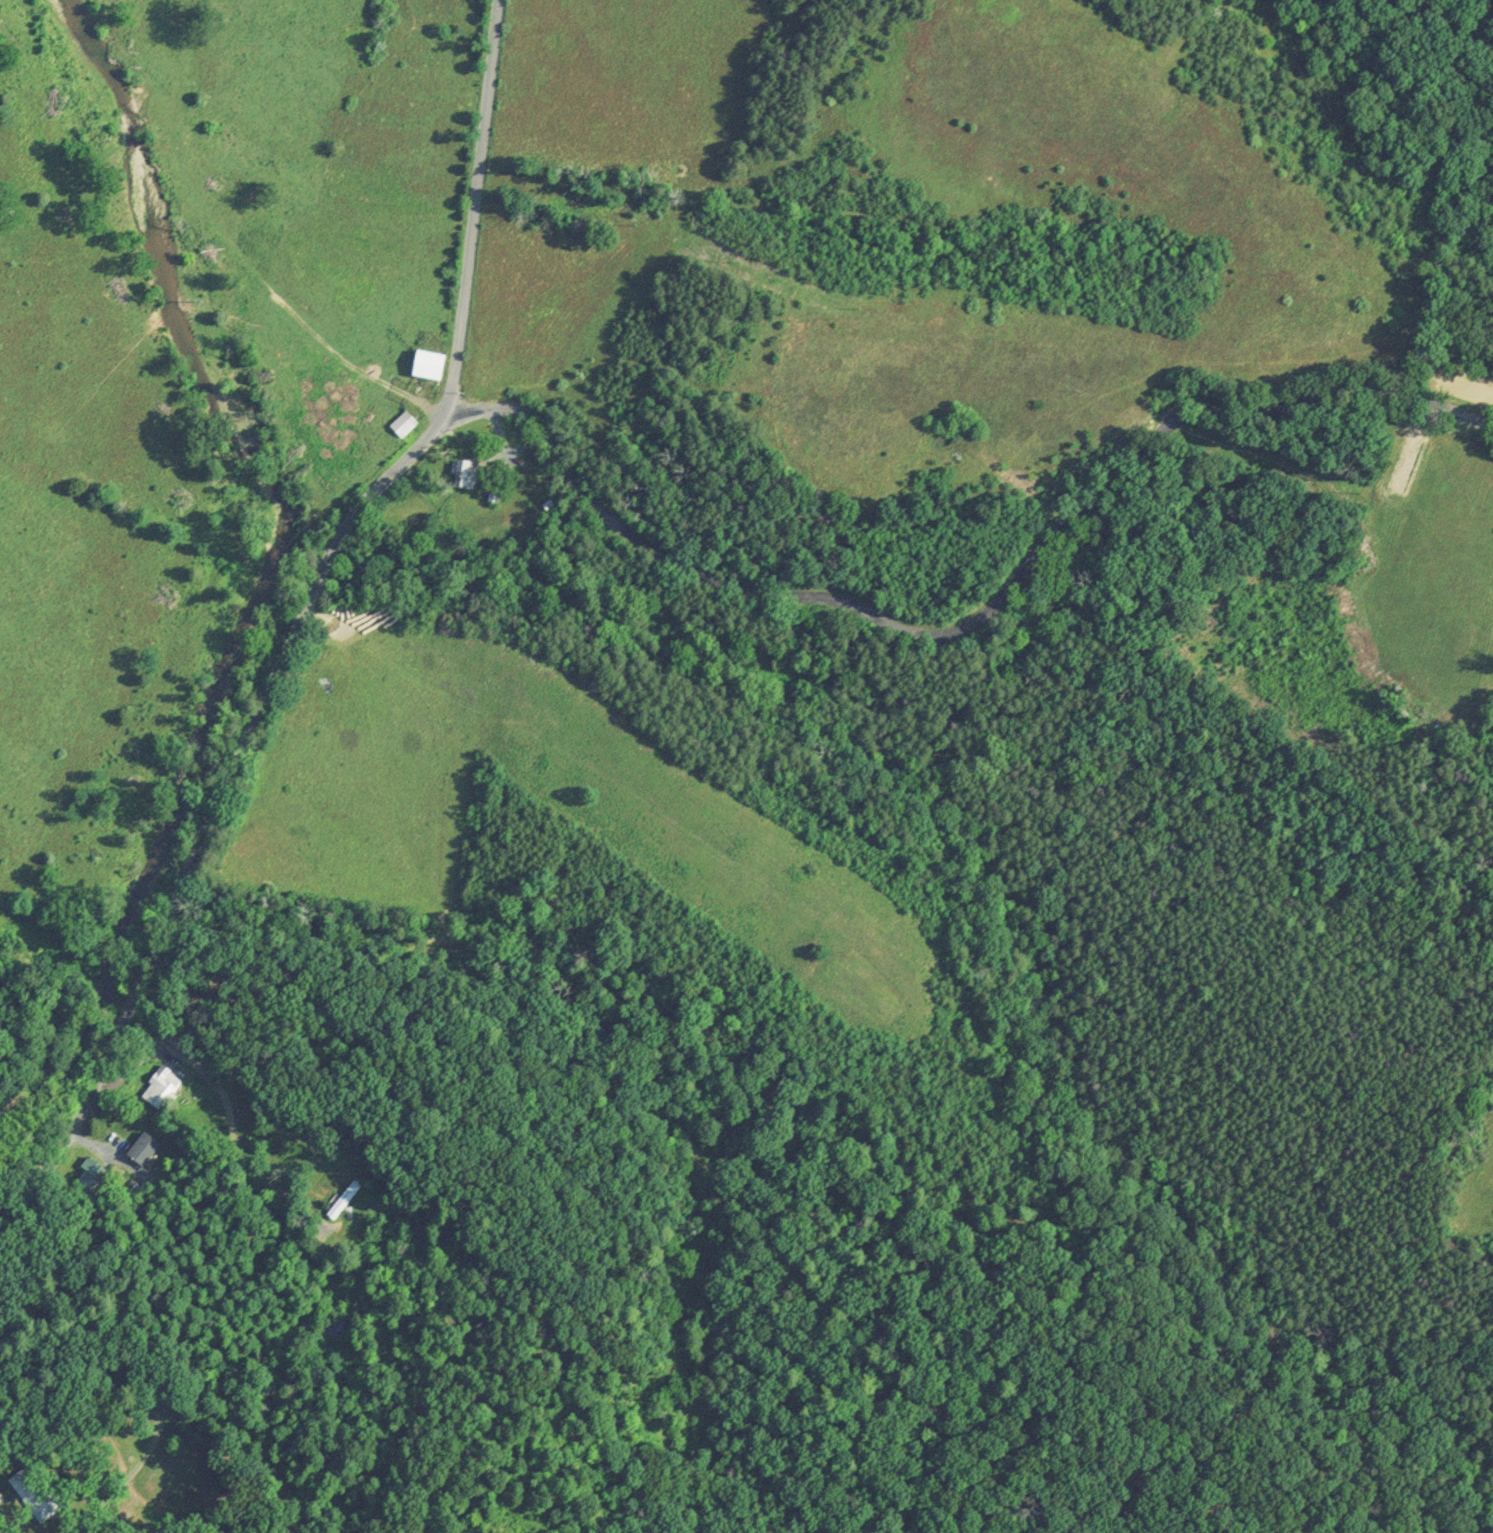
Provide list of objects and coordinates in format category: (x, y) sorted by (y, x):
building: (427, 365)
building: (402, 424)
building: (464, 474)
river: (269, 562)
road: (972, 610)
road: (299, 615)
building: (160, 1087)
building: (142, 1149)
building: (92, 1172)
building: (344, 1198)

